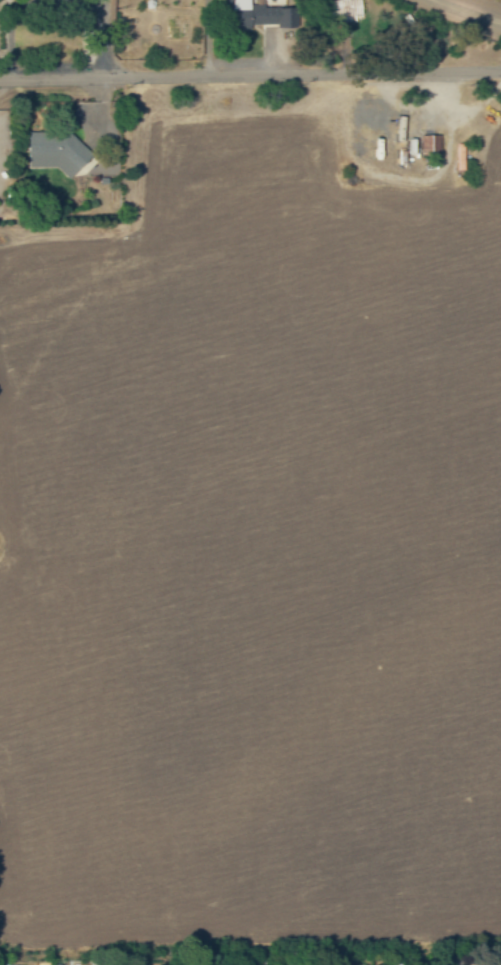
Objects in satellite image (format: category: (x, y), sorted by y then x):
building: (343, 8)
road: (469, 10)
building: (236, 14)
building: (271, 16)
road: (250, 74)
building: (428, 145)
building: (53, 152)

